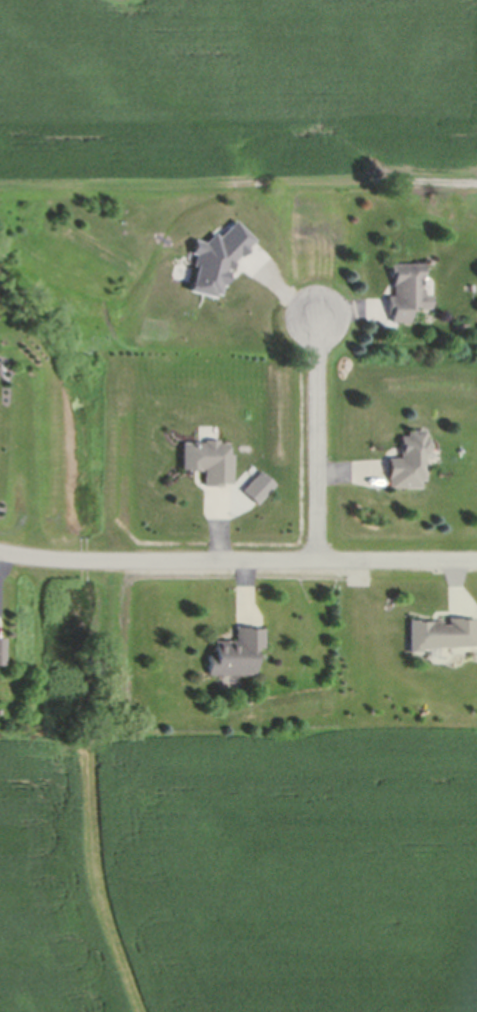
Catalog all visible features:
building: (405, 294)
road: (323, 436)
building: (208, 463)
building: (407, 464)
building: (215, 515)
road: (237, 557)
building: (440, 637)
building: (1, 653)
building: (235, 655)

